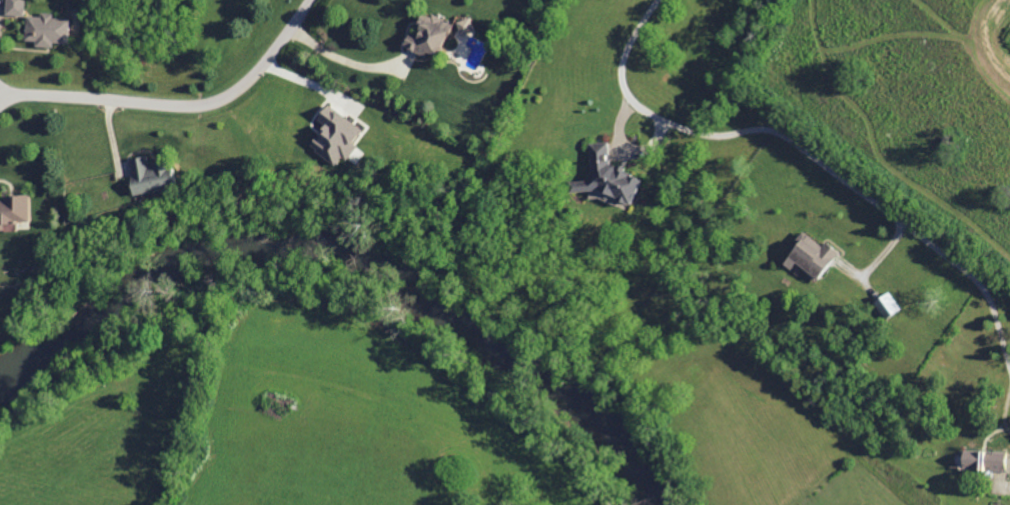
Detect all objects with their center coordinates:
building: (14, 7)
building: (46, 30)
building: (425, 35)
road: (345, 57)
road: (179, 106)
building: (335, 135)
road: (806, 151)
building: (152, 176)
building: (608, 177)
building: (14, 212)
river: (344, 255)
building: (809, 255)
building: (886, 305)
building: (983, 461)

